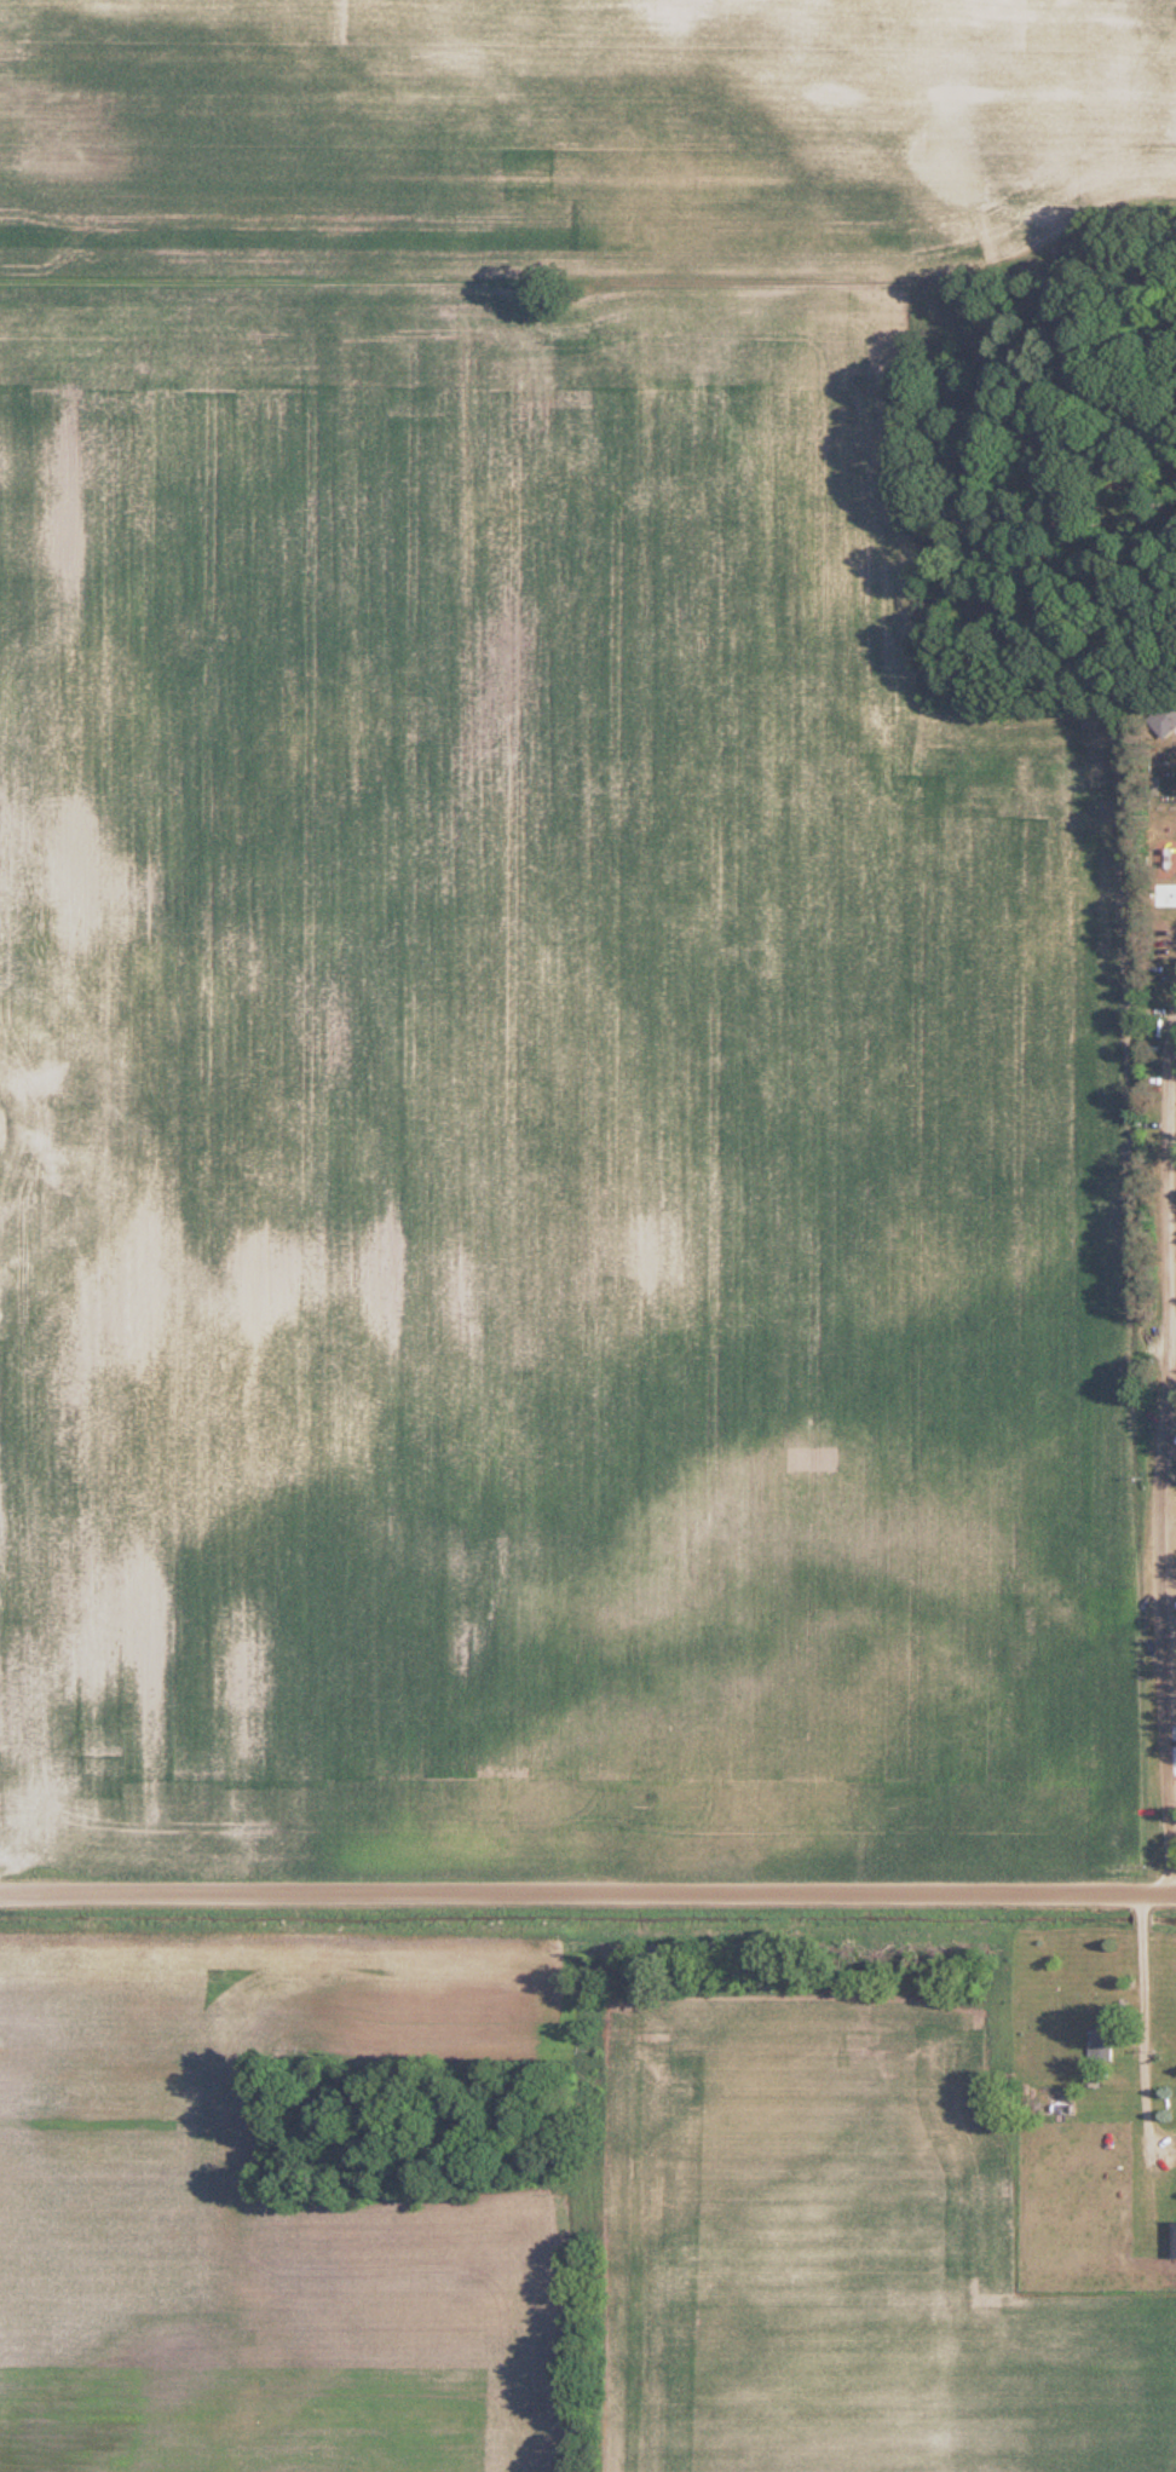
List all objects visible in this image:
building: (1164, 718)
road: (1160, 1431)
road: (588, 1896)
road: (1130, 2019)
building: (1101, 2045)
building: (1174, 2240)

